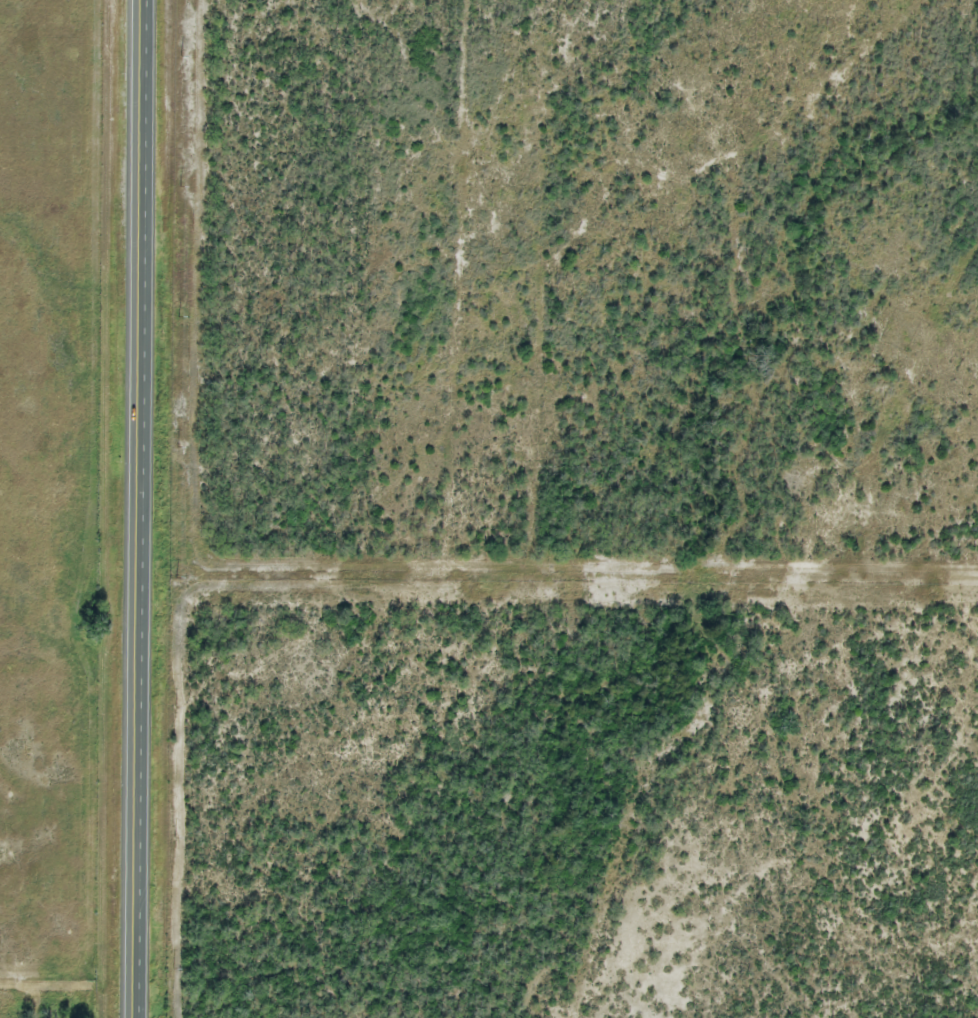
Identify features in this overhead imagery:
road: (144, 509)

